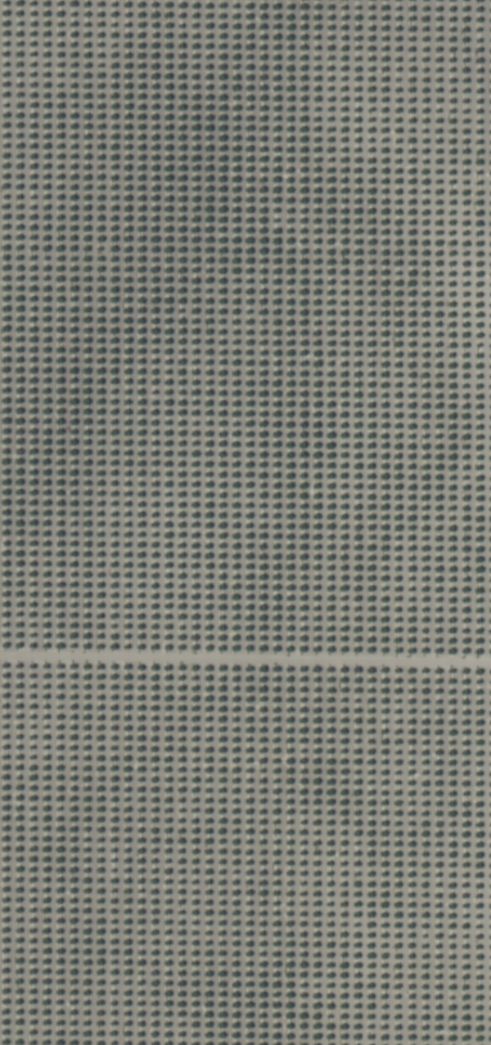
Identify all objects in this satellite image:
crop: (245, 522)

